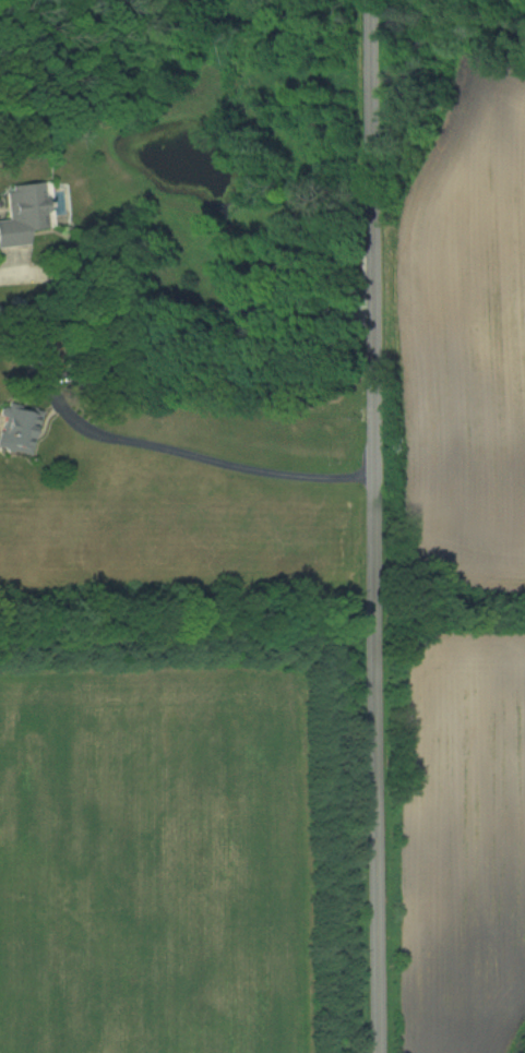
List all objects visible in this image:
building: (22, 215)
road: (183, 311)
building: (17, 428)
road: (208, 456)
road: (375, 526)

